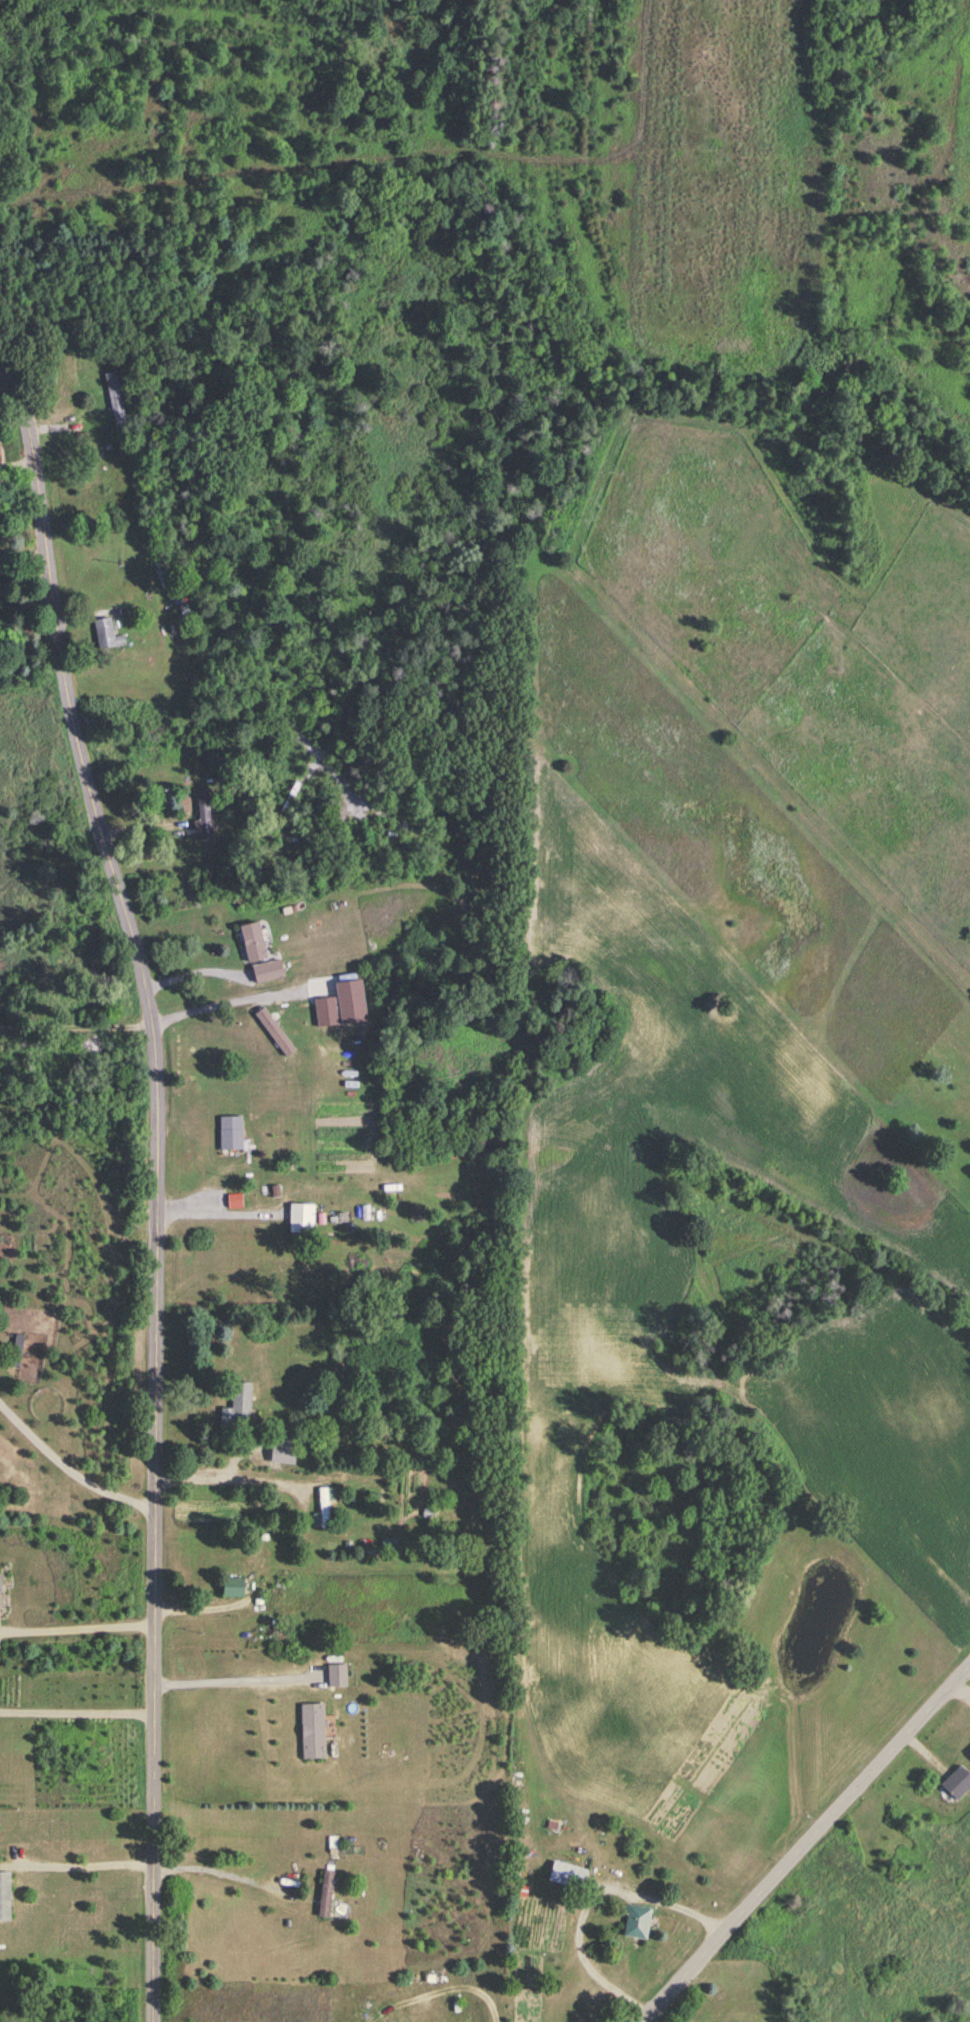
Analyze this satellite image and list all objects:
building: (116, 400)
building: (108, 635)
building: (208, 815)
building: (384, 836)
building: (254, 943)
road: (196, 972)
building: (269, 973)
road: (231, 1007)
building: (328, 1013)
building: (276, 1034)
building: (99, 1041)
building: (232, 1134)
road: (161, 1181)
building: (302, 1218)
building: (16, 1356)
building: (239, 1409)
building: (284, 1452)
road: (230, 1461)
road: (72, 1471)
building: (325, 1508)
building: (234, 1588)
building: (1, 1593)
road: (79, 1612)
road: (232, 1665)
building: (337, 1677)
road: (79, 1698)
building: (313, 1732)
building: (969, 1754)
building: (958, 1783)
road: (808, 1845)
road: (87, 1850)
road: (218, 1875)
building: (569, 1876)
building: (326, 1895)
building: (5, 1897)
road: (592, 1903)
building: (638, 1922)
road: (435, 1990)

